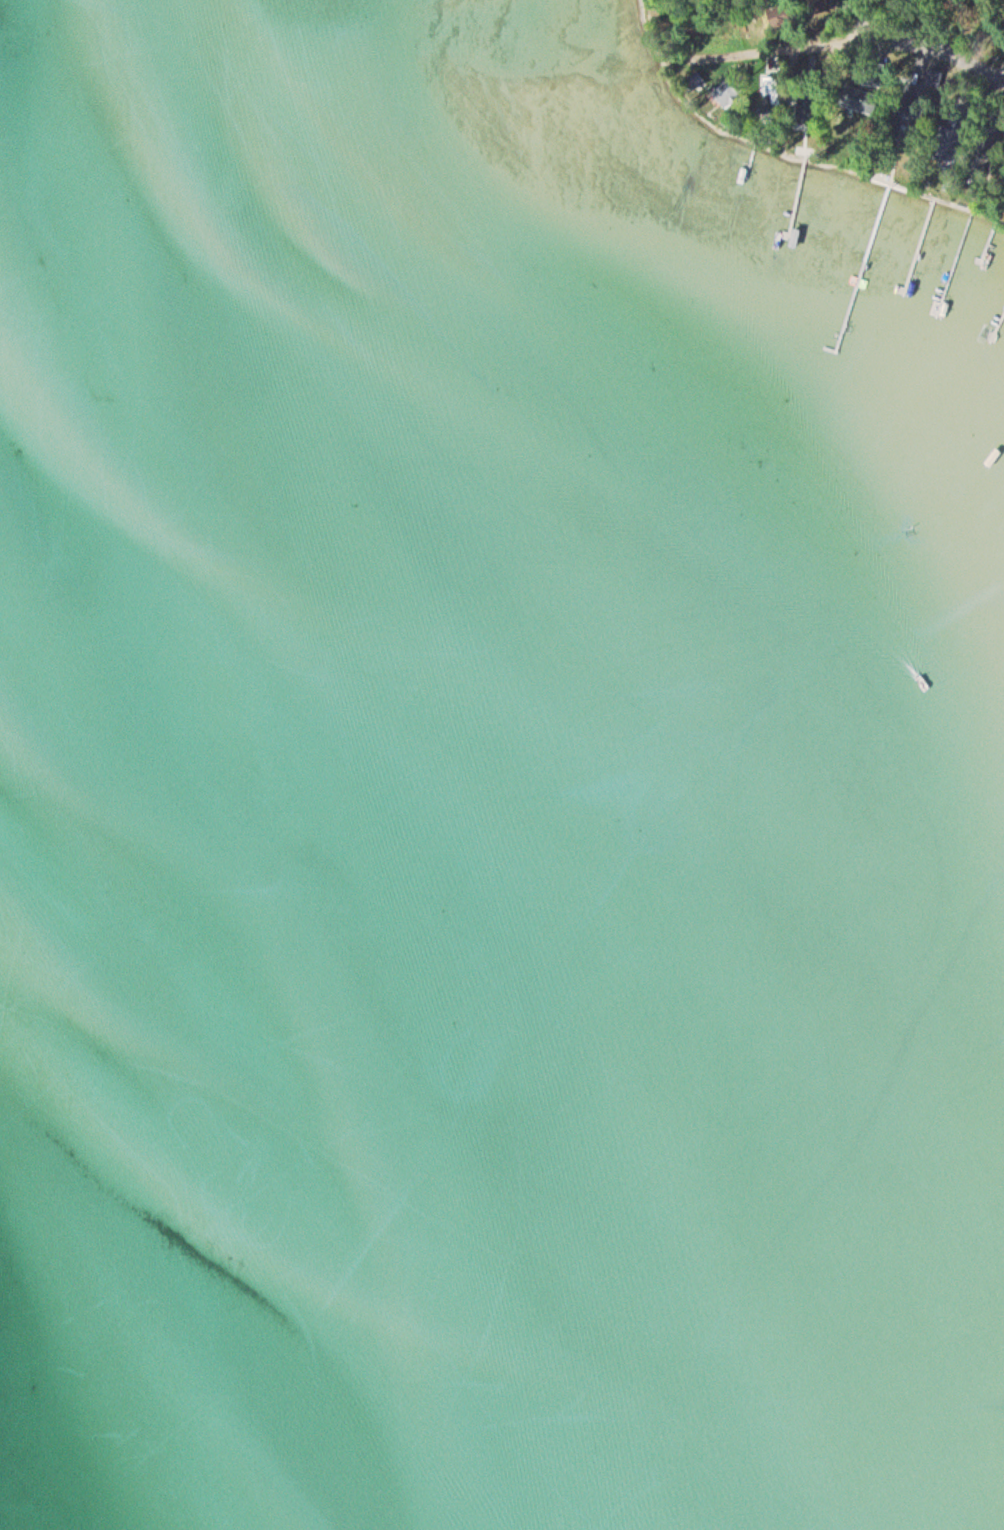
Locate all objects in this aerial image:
road: (849, 18)
road: (838, 37)
building: (696, 82)
building: (727, 93)
building: (860, 100)
building: (809, 111)
building: (952, 145)

